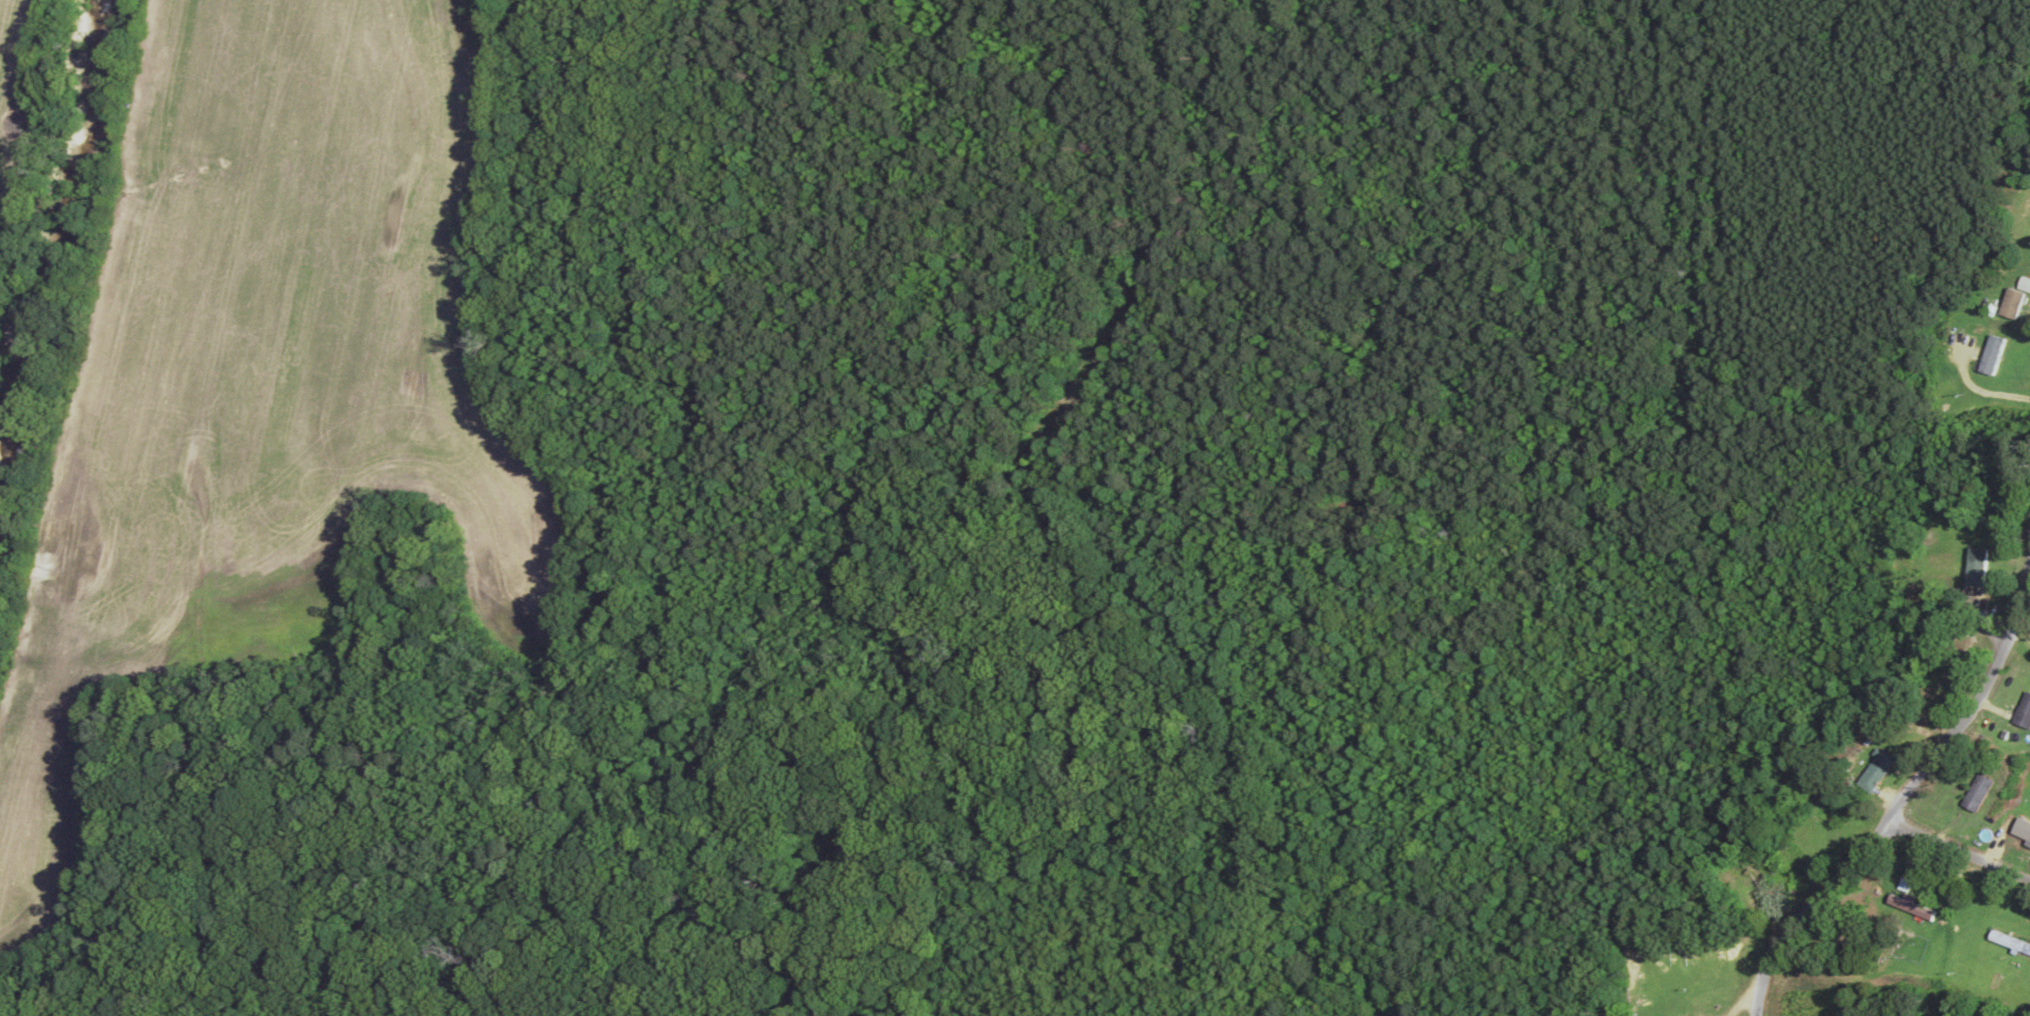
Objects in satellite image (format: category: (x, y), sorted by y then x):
building: (1973, 567)
building: (2022, 712)
building: (1872, 772)
building: (1974, 794)
road: (1923, 815)
road: (1964, 880)
building: (1775, 881)
building: (1905, 906)
building: (2008, 944)

